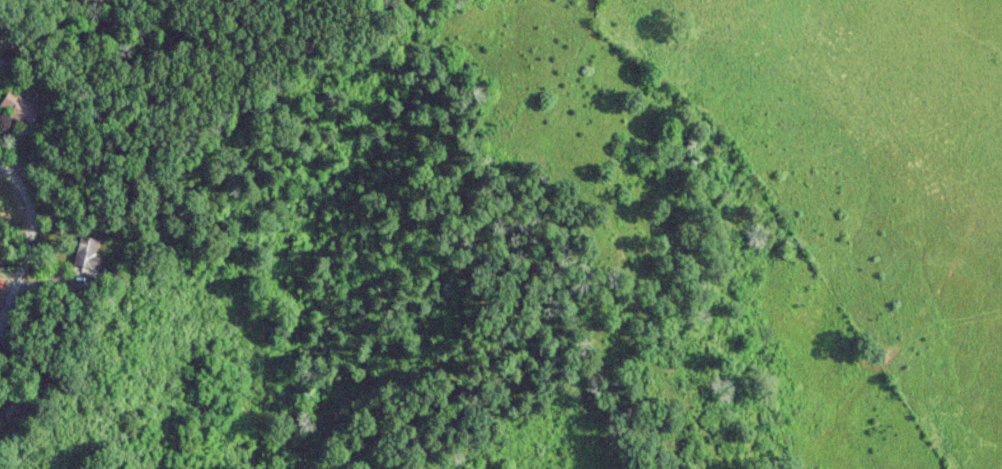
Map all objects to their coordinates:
road: (77, 26)
building: (17, 108)
road: (23, 245)
building: (85, 253)

